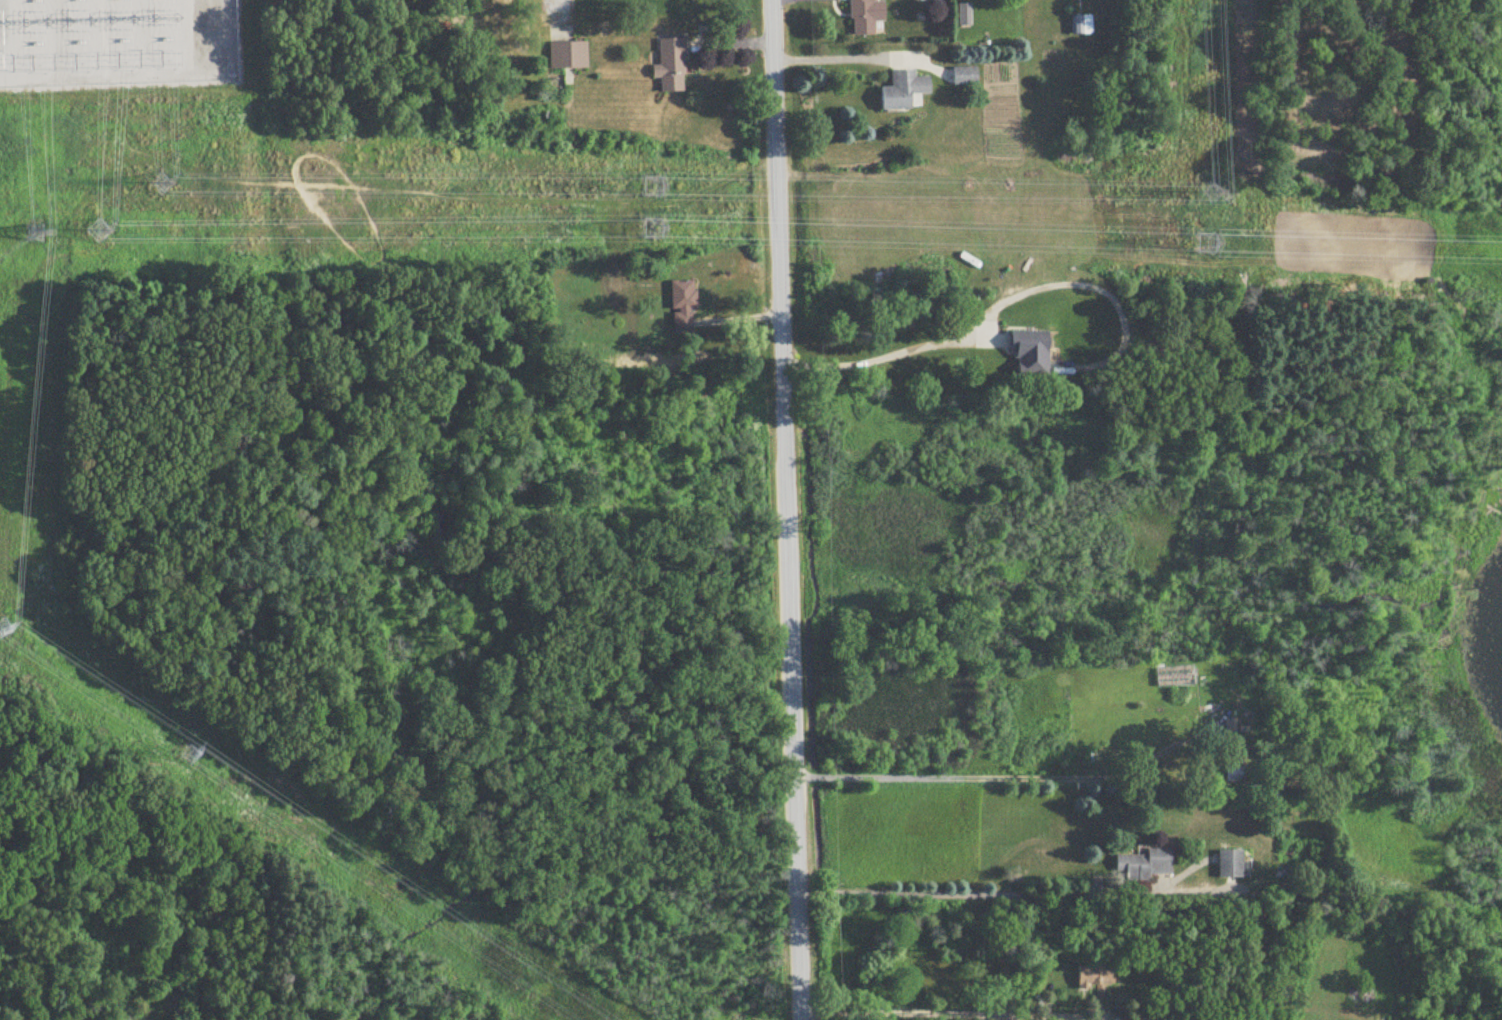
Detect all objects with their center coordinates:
building: (964, 15)
building: (866, 17)
building: (1080, 25)
power substation: (115, 40)
building: (568, 56)
road: (828, 58)
building: (671, 66)
road: (129, 69)
building: (964, 77)
building: (904, 92)
power tower: (162, 184)
power tower: (651, 188)
power tower: (1212, 193)
power tower: (654, 230)
power tower: (98, 232)
power tower: (38, 234)
power tower: (1206, 246)
building: (682, 308)
road: (885, 357)
building: (930, 368)
road: (786, 509)
power tower: (2, 625)
power tower: (191, 751)
building: (1240, 777)
road: (993, 778)
building: (1229, 865)
building: (1144, 866)
road: (982, 894)
building: (1094, 981)
road: (936, 1005)
building: (1152, 1013)

